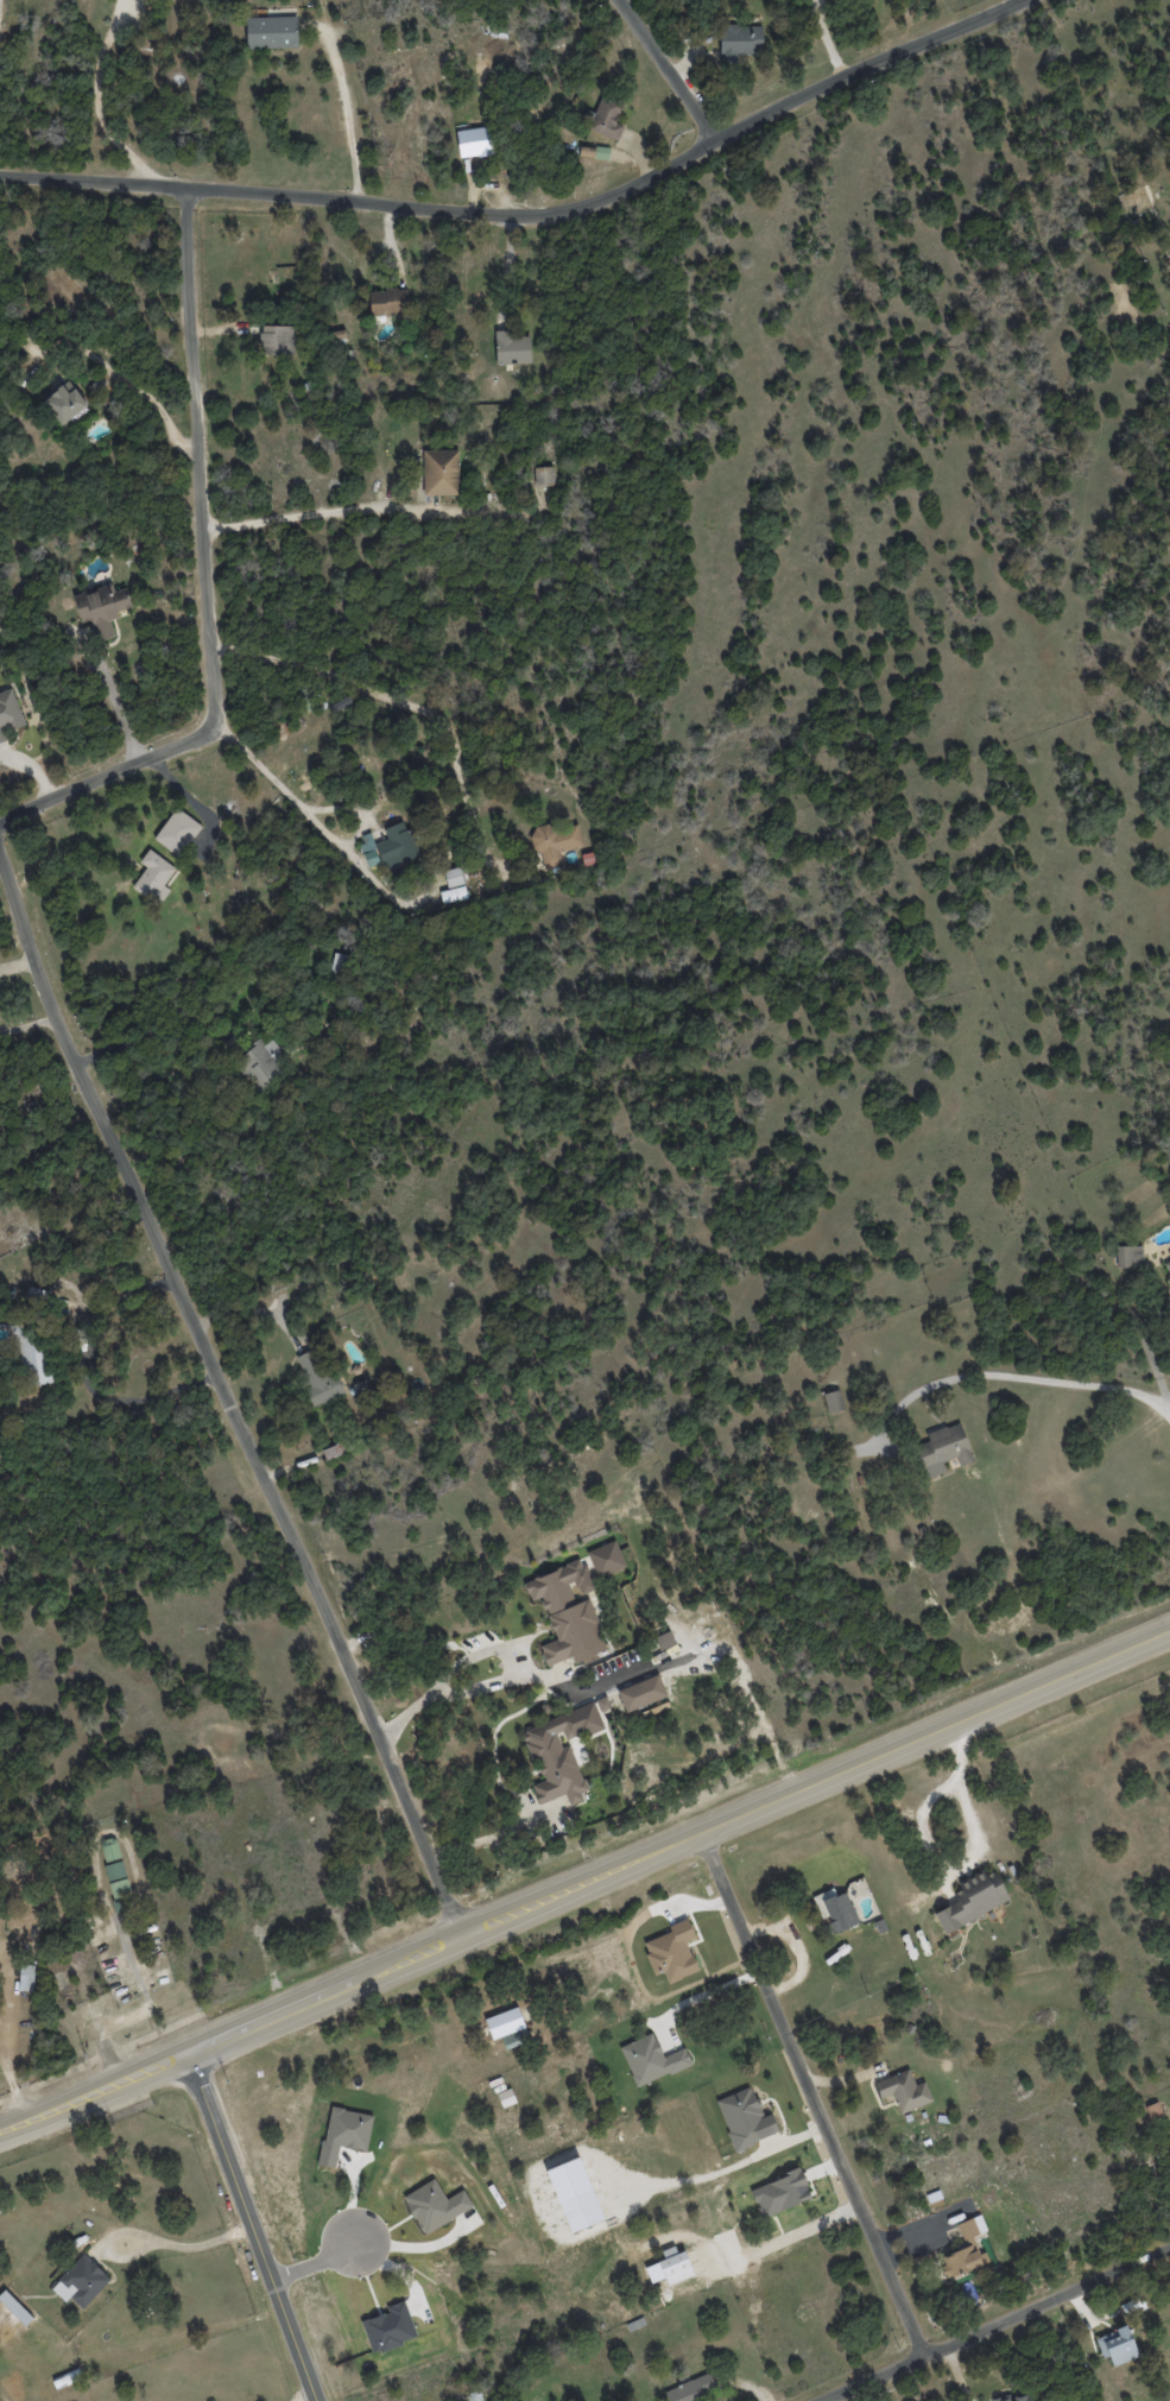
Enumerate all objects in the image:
road: (0, 18)
building: (273, 29)
building: (739, 40)
road: (668, 70)
road: (100, 101)
road: (347, 114)
building: (605, 118)
building: (472, 141)
road: (533, 216)
road: (507, 270)
building: (388, 301)
building: (277, 340)
building: (512, 348)
road: (127, 378)
building: (64, 402)
building: (441, 472)
building: (543, 476)
road: (318, 511)
road: (207, 576)
building: (102, 607)
road: (113, 695)
road: (411, 703)
building: (340, 706)
building: (8, 714)
road: (191, 800)
road: (314, 816)
building: (177, 832)
building: (556, 841)
building: (388, 847)
building: (152, 874)
building: (454, 877)
building: (453, 895)
road: (27, 1023)
building: (257, 1064)
building: (1128, 1256)
building: (1166, 1263)
building: (1168, 1281)
building: (32, 1360)
road: (82, 1371)
road: (1025, 1373)
building: (316, 1376)
road: (226, 1397)
building: (833, 1401)
building: (942, 1449)
building: (606, 1559)
building: (567, 1613)
building: (664, 1641)
road: (695, 1649)
road: (482, 1653)
building: (641, 1693)
building: (602, 1702)
building: (559, 1754)
road: (483, 1840)
building: (109, 1849)
road: (967, 1856)
building: (114, 1870)
road: (586, 1883)
building: (119, 1887)
building: (974, 1897)
building: (837, 1907)
building: (675, 1950)
building: (26, 1977)
road: (703, 1989)
building: (507, 2022)
building: (657, 2059)
building: (905, 2092)
road: (811, 2094)
building: (510, 2097)
building: (1153, 2110)
building: (748, 2116)
building: (344, 2135)
building: (580, 2194)
building: (779, 2194)
building: (437, 2205)
road: (252, 2226)
road: (190, 2245)
building: (968, 2255)
road: (320, 2261)
building: (676, 2273)
building: (81, 2282)
building: (15, 2307)
building: (637, 2323)
road: (993, 2325)
building: (388, 2326)
building: (1118, 2338)
building: (67, 2378)
building: (692, 2388)
building: (1023, 2395)
building: (1031, 2396)
road: (305, 2397)

